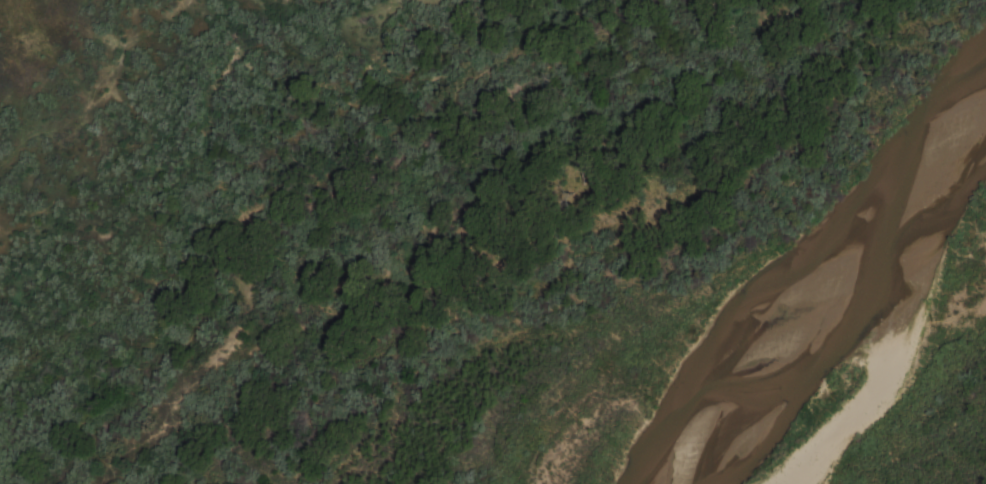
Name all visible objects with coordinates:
river: (814, 340)

